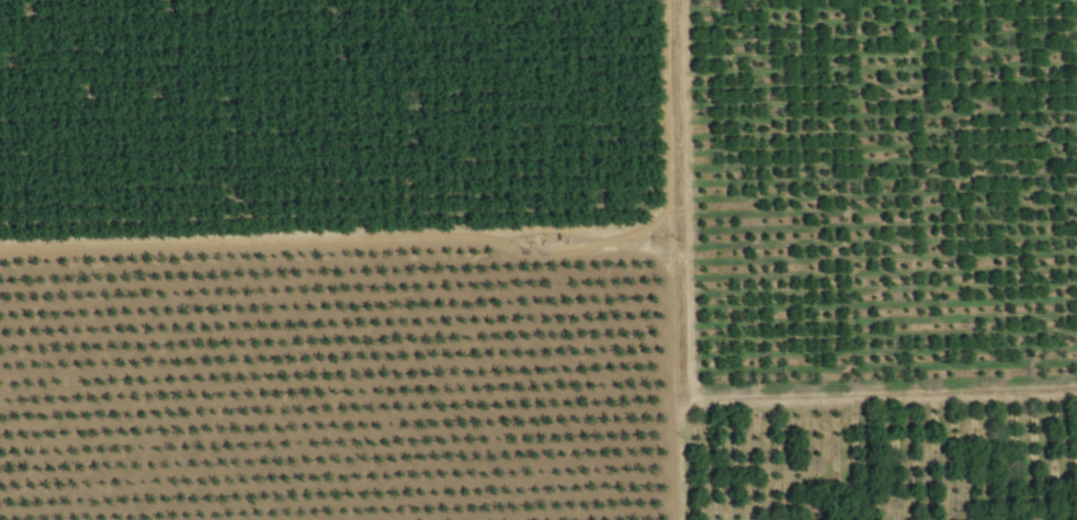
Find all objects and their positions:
wastewater plant: (538, 169)

